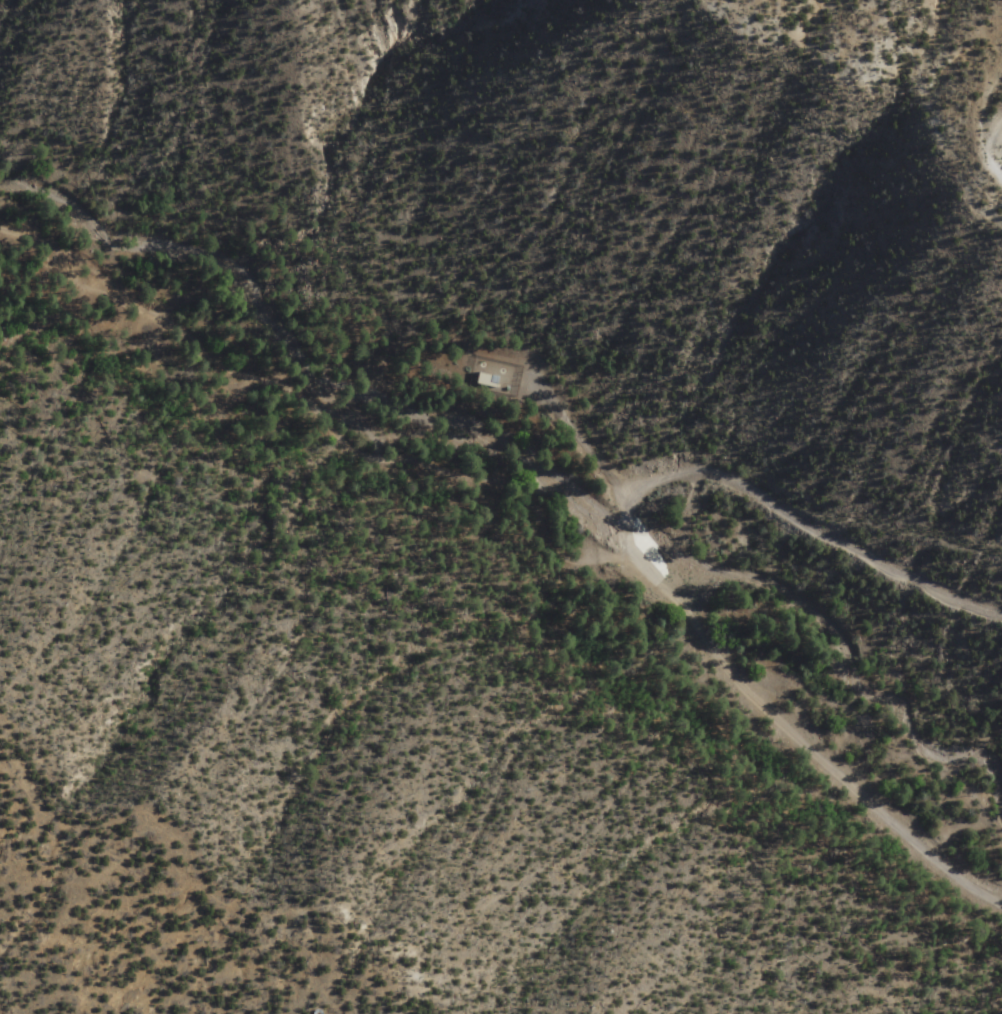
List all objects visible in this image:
building: (488, 381)
road: (318, 417)
road: (624, 520)
road: (818, 530)
road: (802, 742)

